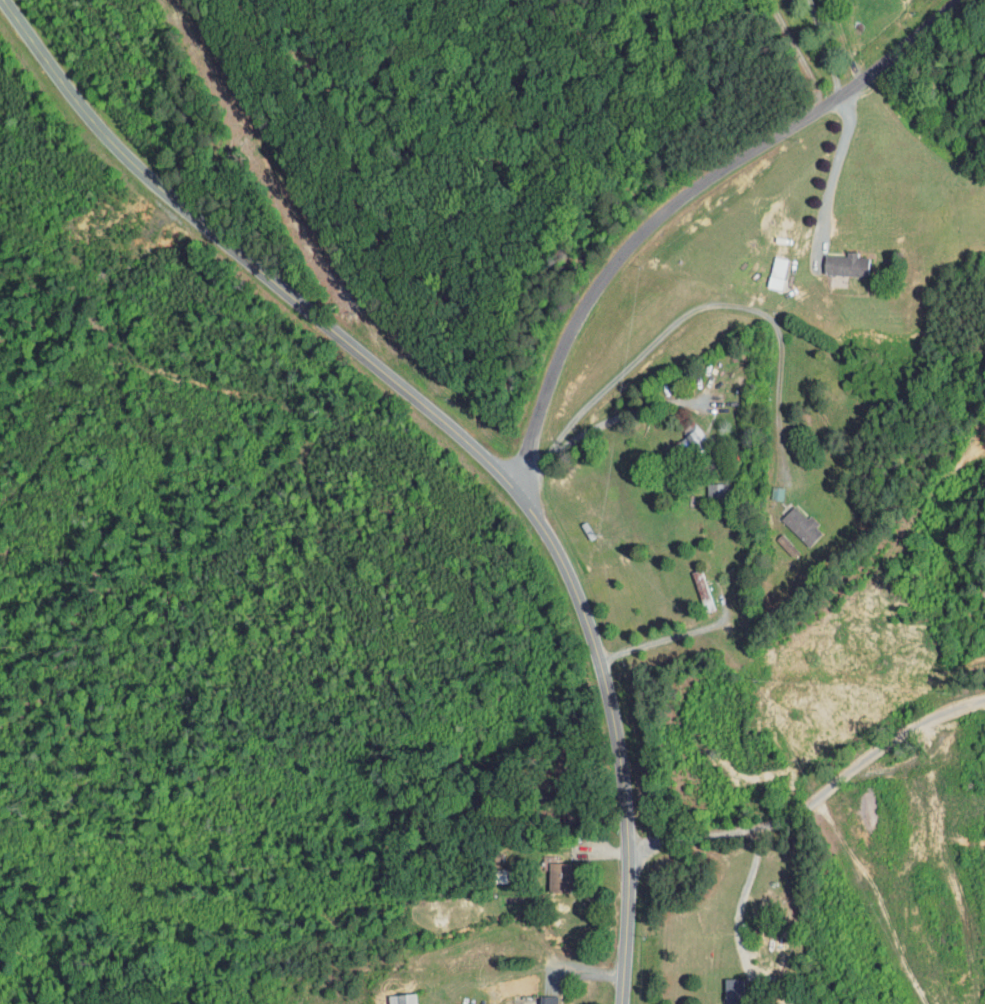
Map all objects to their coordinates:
road: (817, 44)
road: (787, 50)
road: (824, 161)
road: (673, 202)
building: (832, 258)
building: (764, 267)
road: (692, 312)
road: (629, 412)
road: (453, 431)
building: (677, 432)
building: (703, 484)
building: (788, 520)
road: (665, 637)
road: (866, 758)
road: (689, 838)
building: (546, 872)
road: (739, 916)
building: (720, 988)
building: (389, 996)
building: (535, 997)

